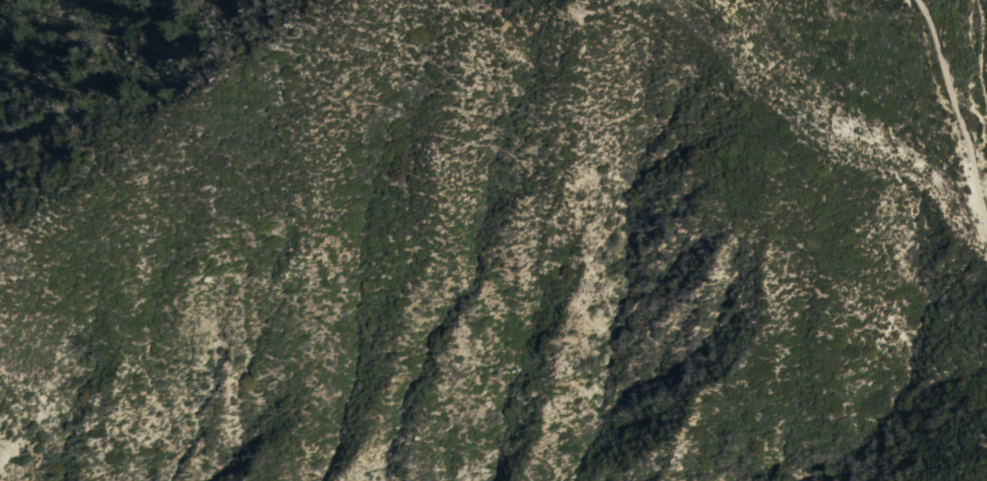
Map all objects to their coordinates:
road: (976, 59)
road: (955, 112)

